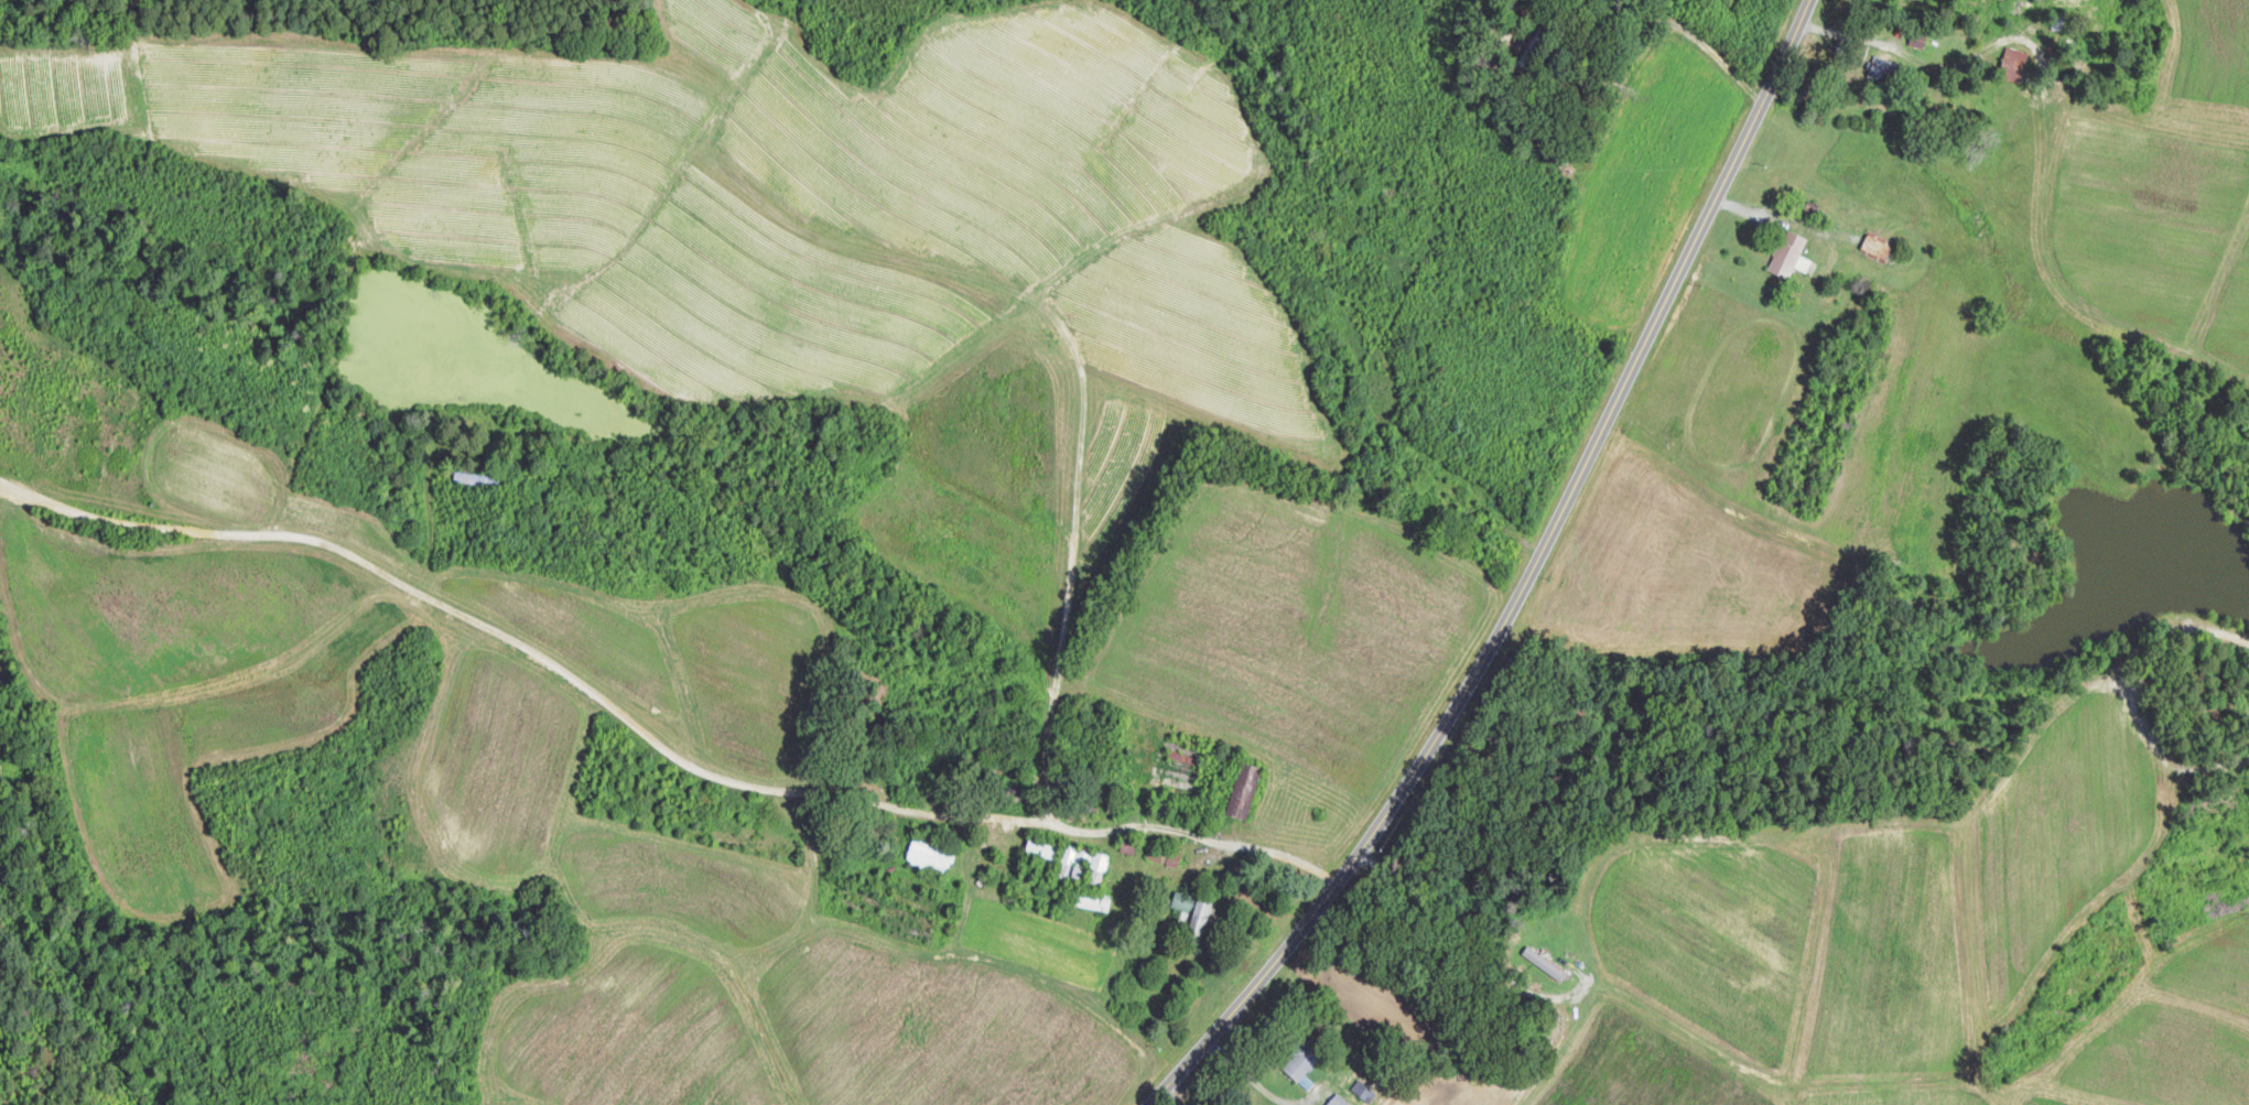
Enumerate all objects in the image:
road: (1686, 29)
building: (2019, 59)
building: (1885, 68)
building: (1879, 247)
building: (1790, 252)
road: (1518, 577)
road: (651, 734)
building: (1247, 790)
building: (933, 853)
building: (1077, 863)
building: (1101, 869)
building: (1107, 901)
building: (1198, 911)
road: (1479, 943)
building: (1307, 1062)
road: (1256, 1083)
building: (1340, 1101)
road: (1148, 1104)

